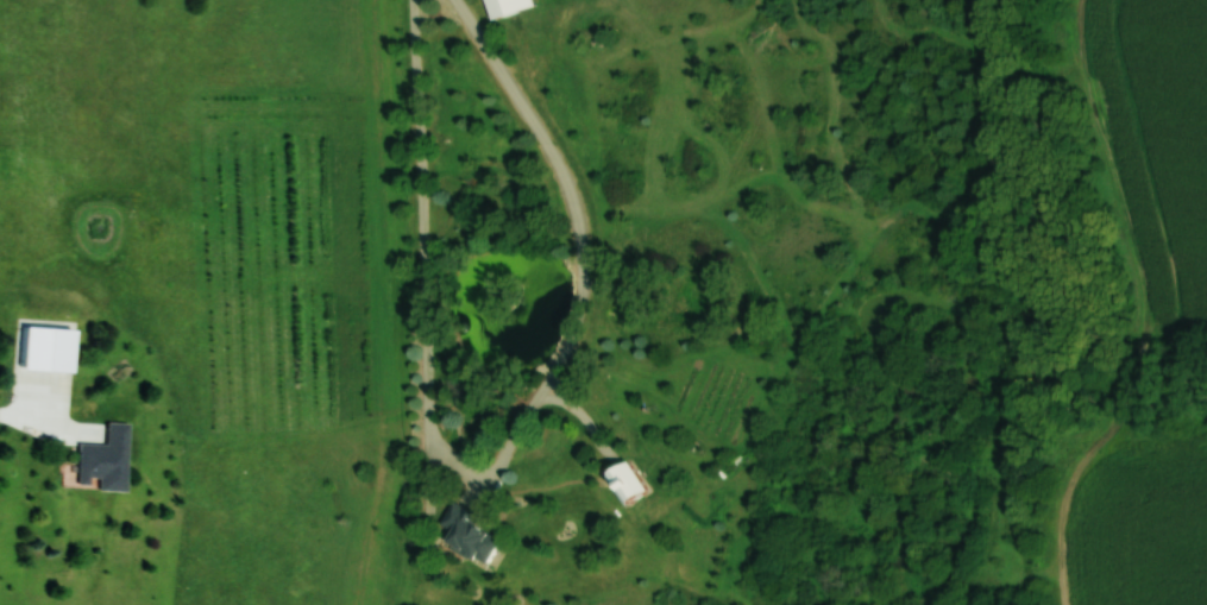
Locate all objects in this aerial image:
building: (515, 7)
road: (36, 431)
building: (111, 458)
road: (495, 469)
building: (637, 484)
building: (476, 531)
road: (629, 584)

